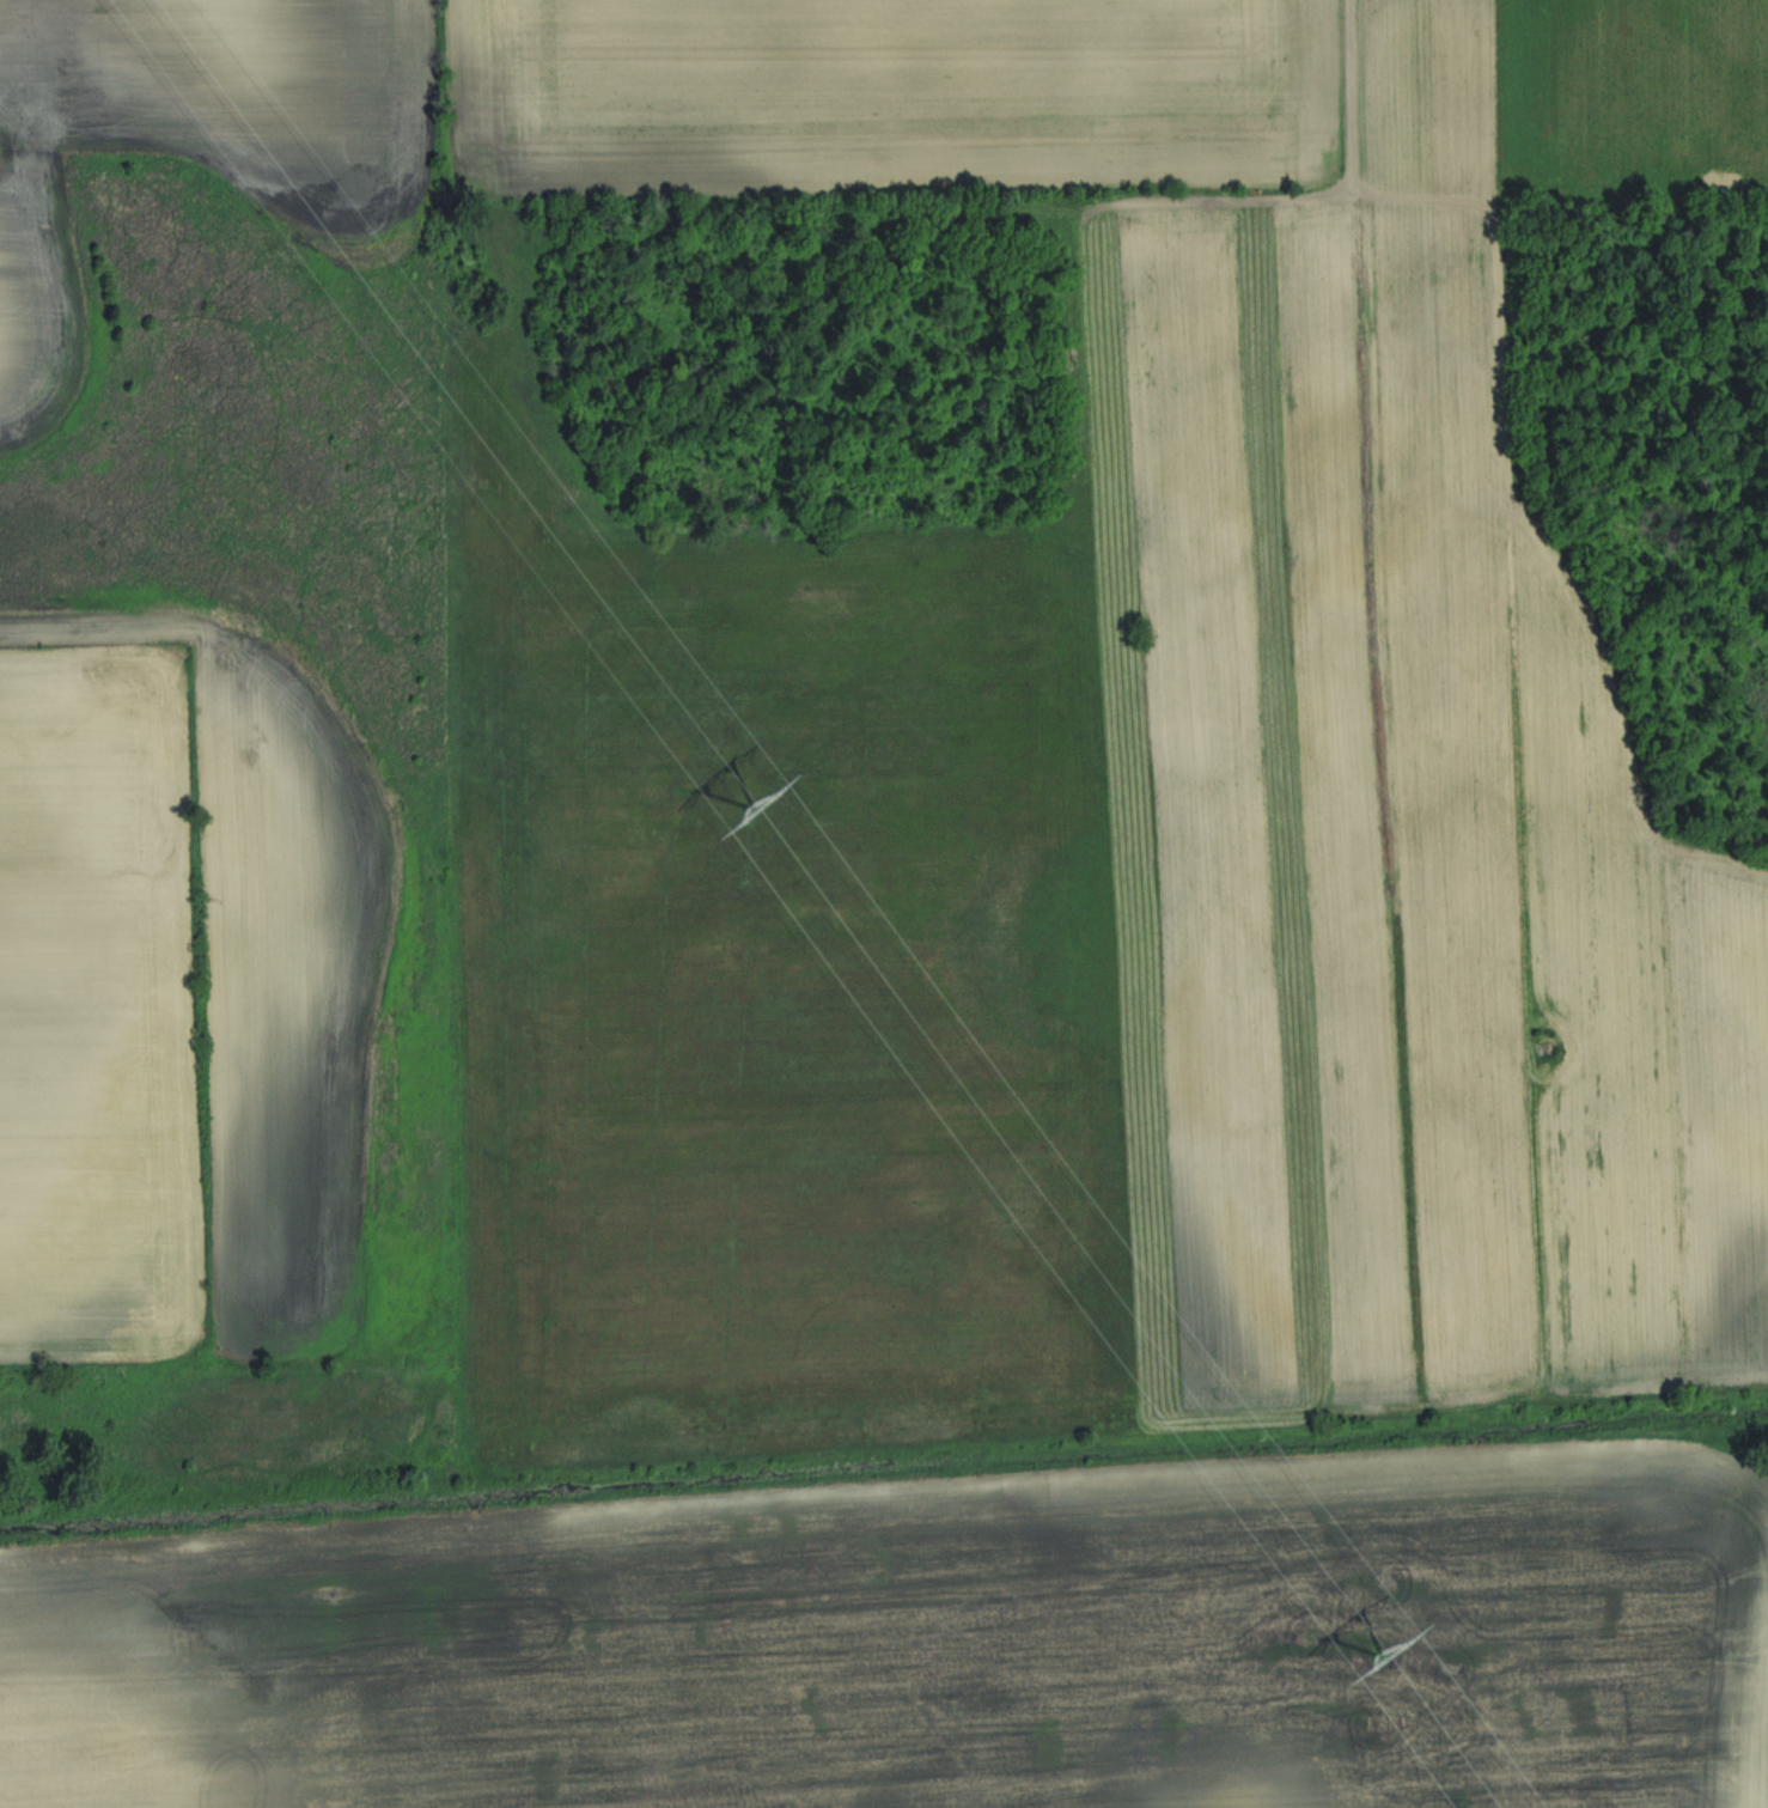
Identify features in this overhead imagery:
road: (1351, 98)
power tower: (750, 806)
power tower: (1376, 1654)

